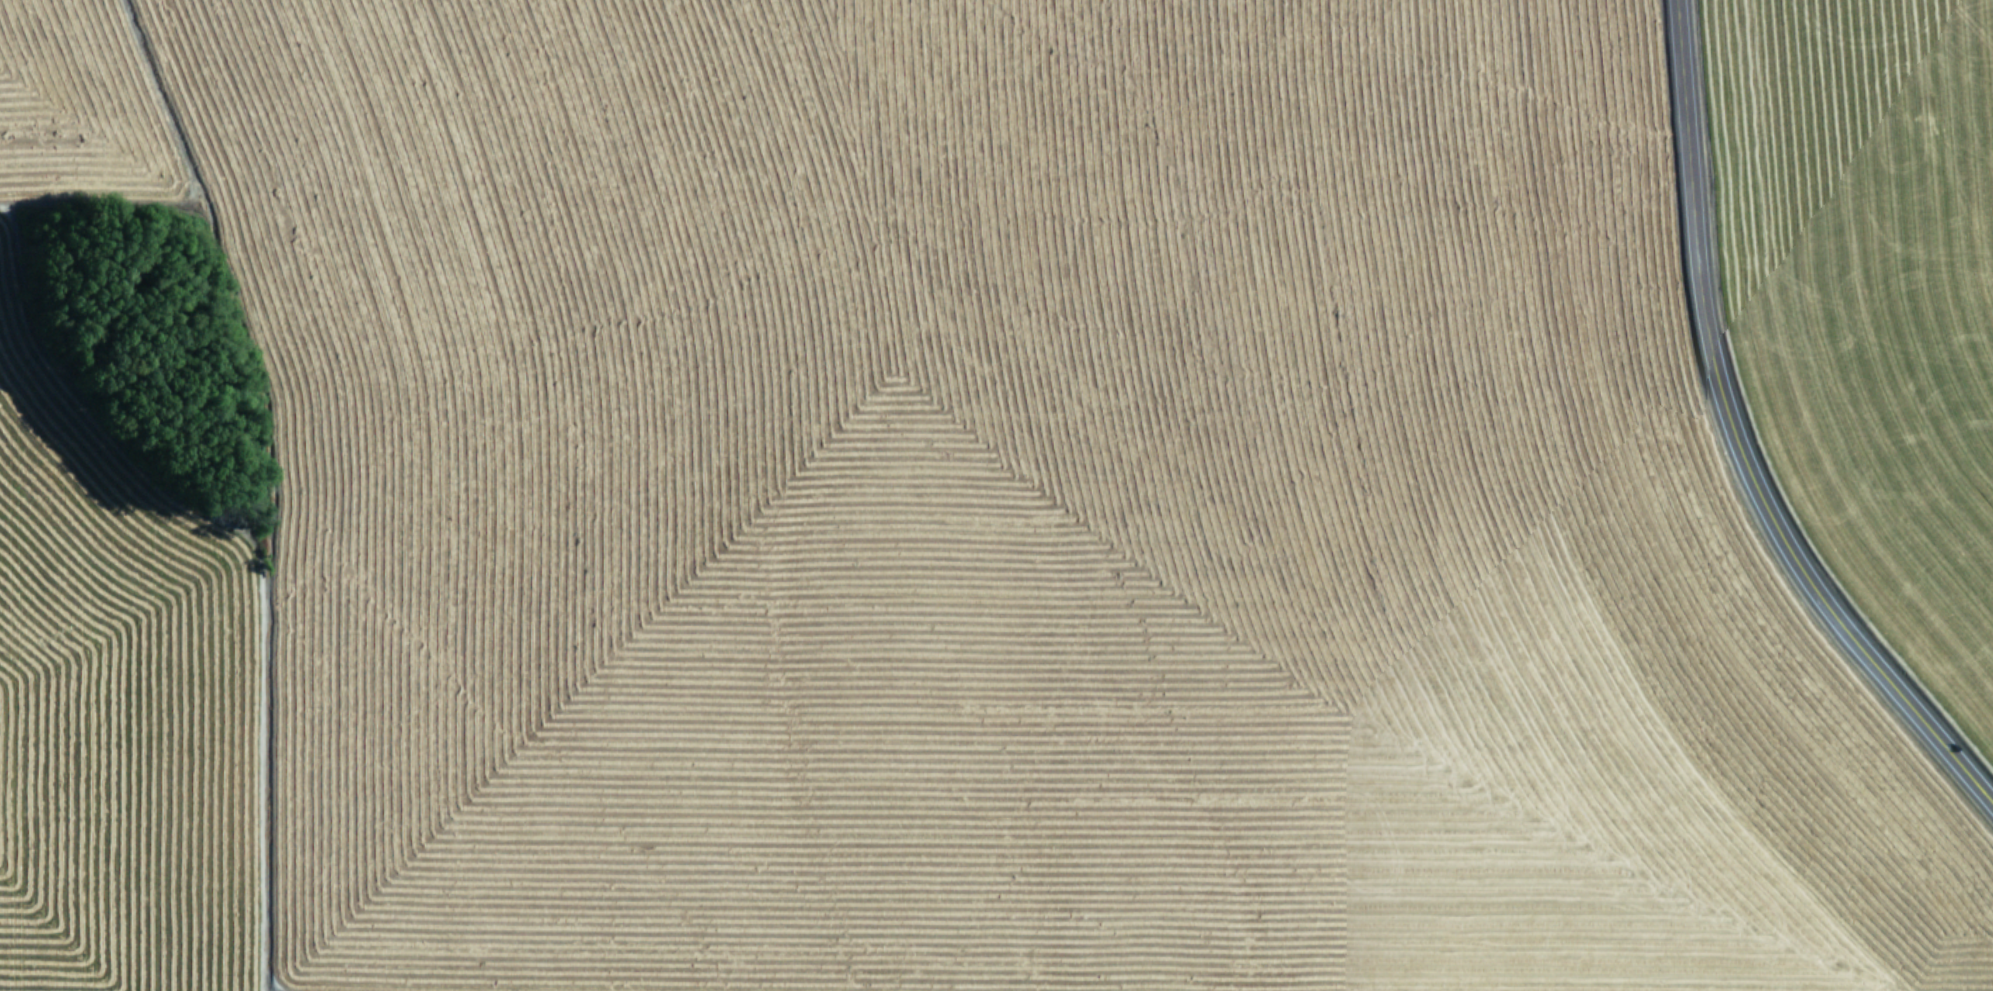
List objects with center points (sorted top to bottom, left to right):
crop: (1870, 292)
road: (1732, 444)
crop: (900, 514)

